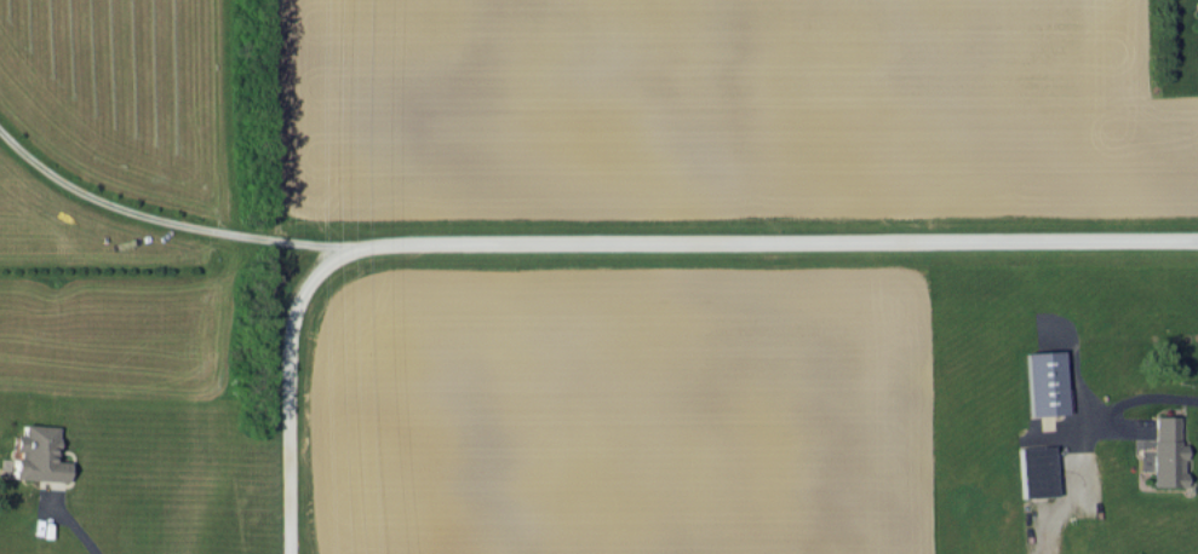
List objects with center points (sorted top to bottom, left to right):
building: (1196, 6)
road: (164, 219)
road: (606, 241)
building: (1043, 381)
road: (1088, 422)
building: (1163, 451)
building: (36, 454)
building: (1034, 471)
road: (80, 533)

